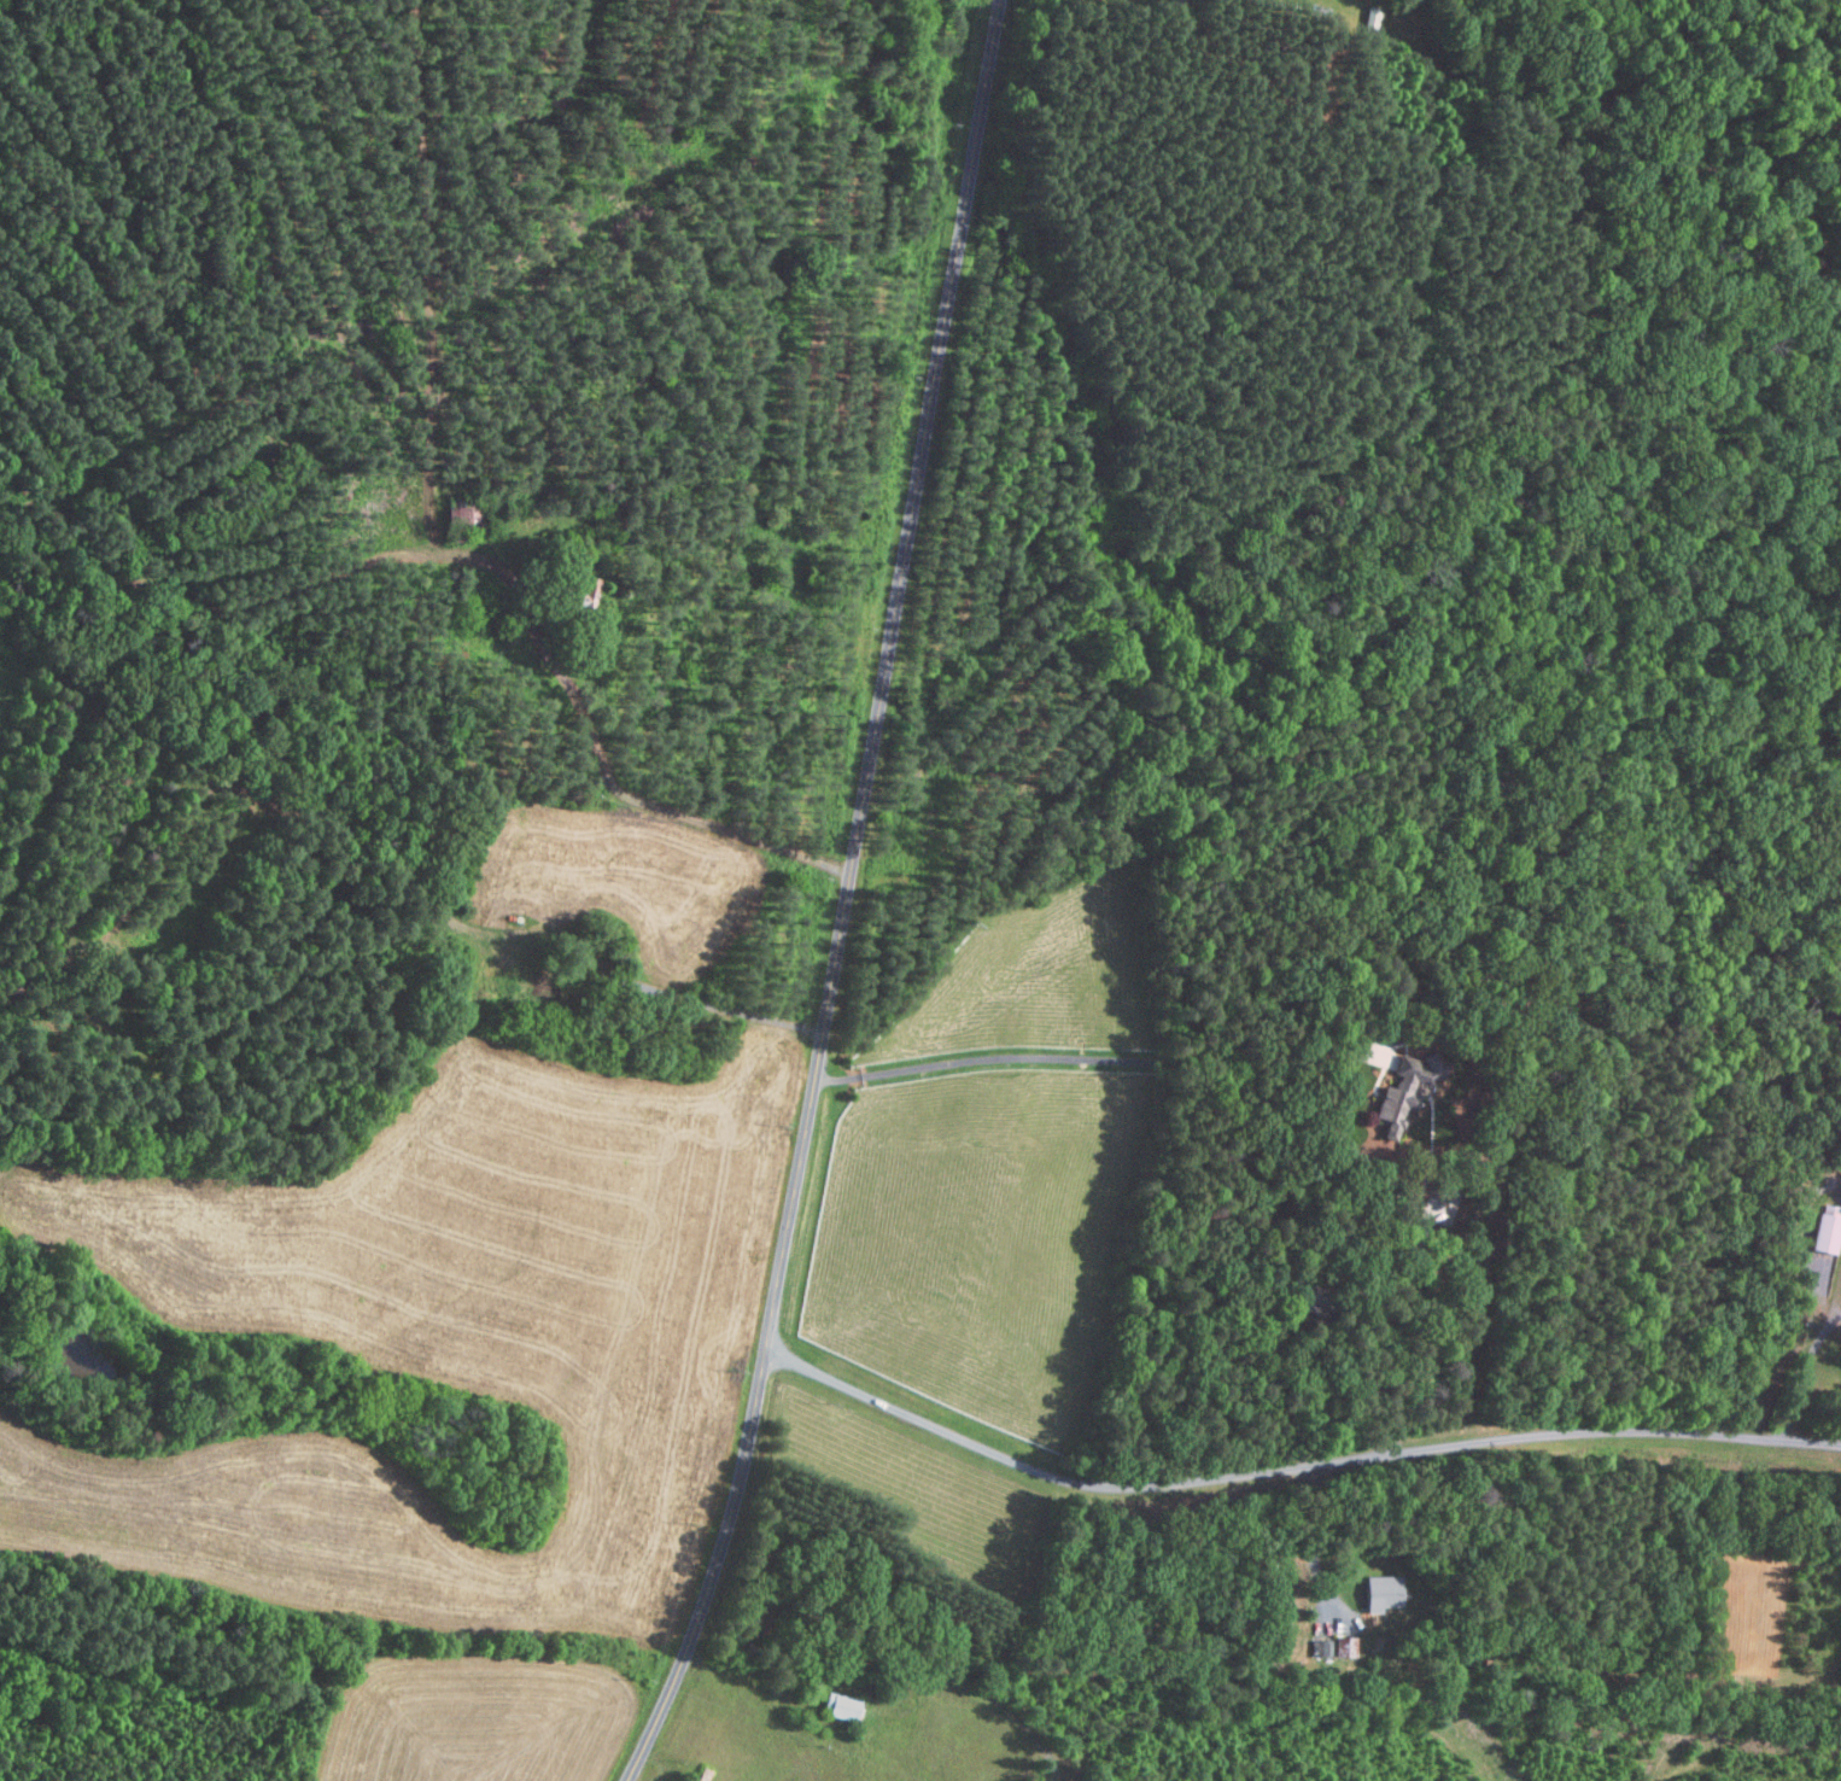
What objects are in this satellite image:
road: (639, 800)
road: (835, 899)
road: (1095, 1059)
building: (1397, 1090)
building: (1823, 1232)
road: (1836, 1310)
road: (1801, 1372)
road: (1285, 1468)
road: (1311, 1541)
building: (1378, 1593)

